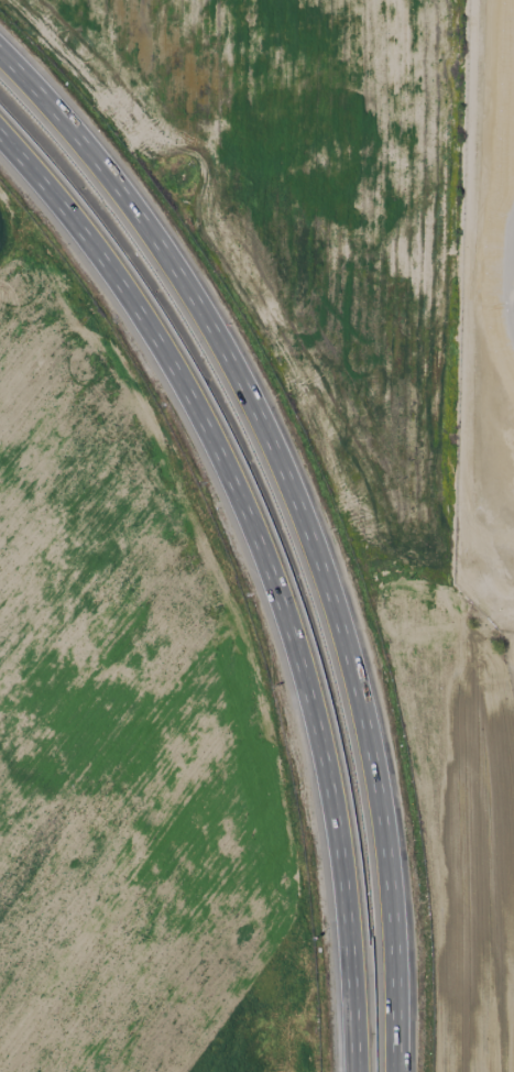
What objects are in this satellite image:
road: (464, 298)
road: (305, 524)
road: (274, 564)
road: (486, 602)

